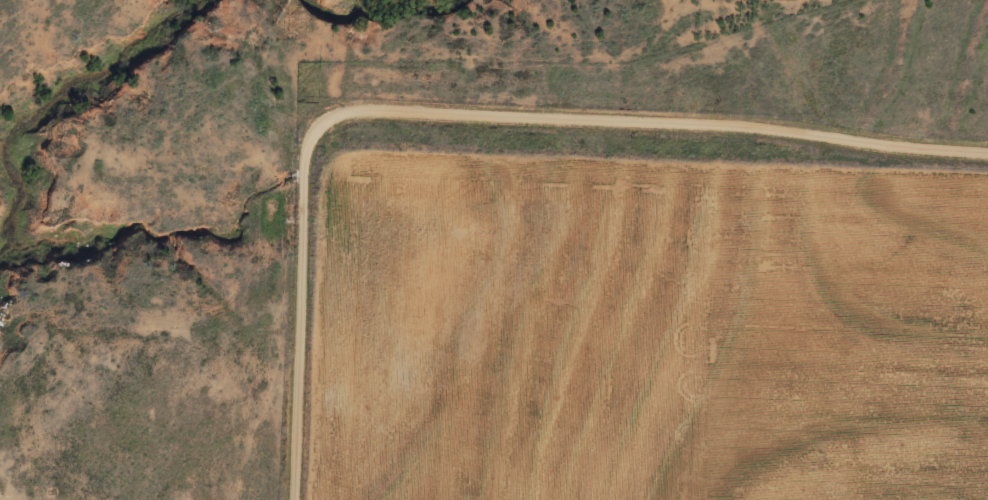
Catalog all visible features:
road: (464, 108)

